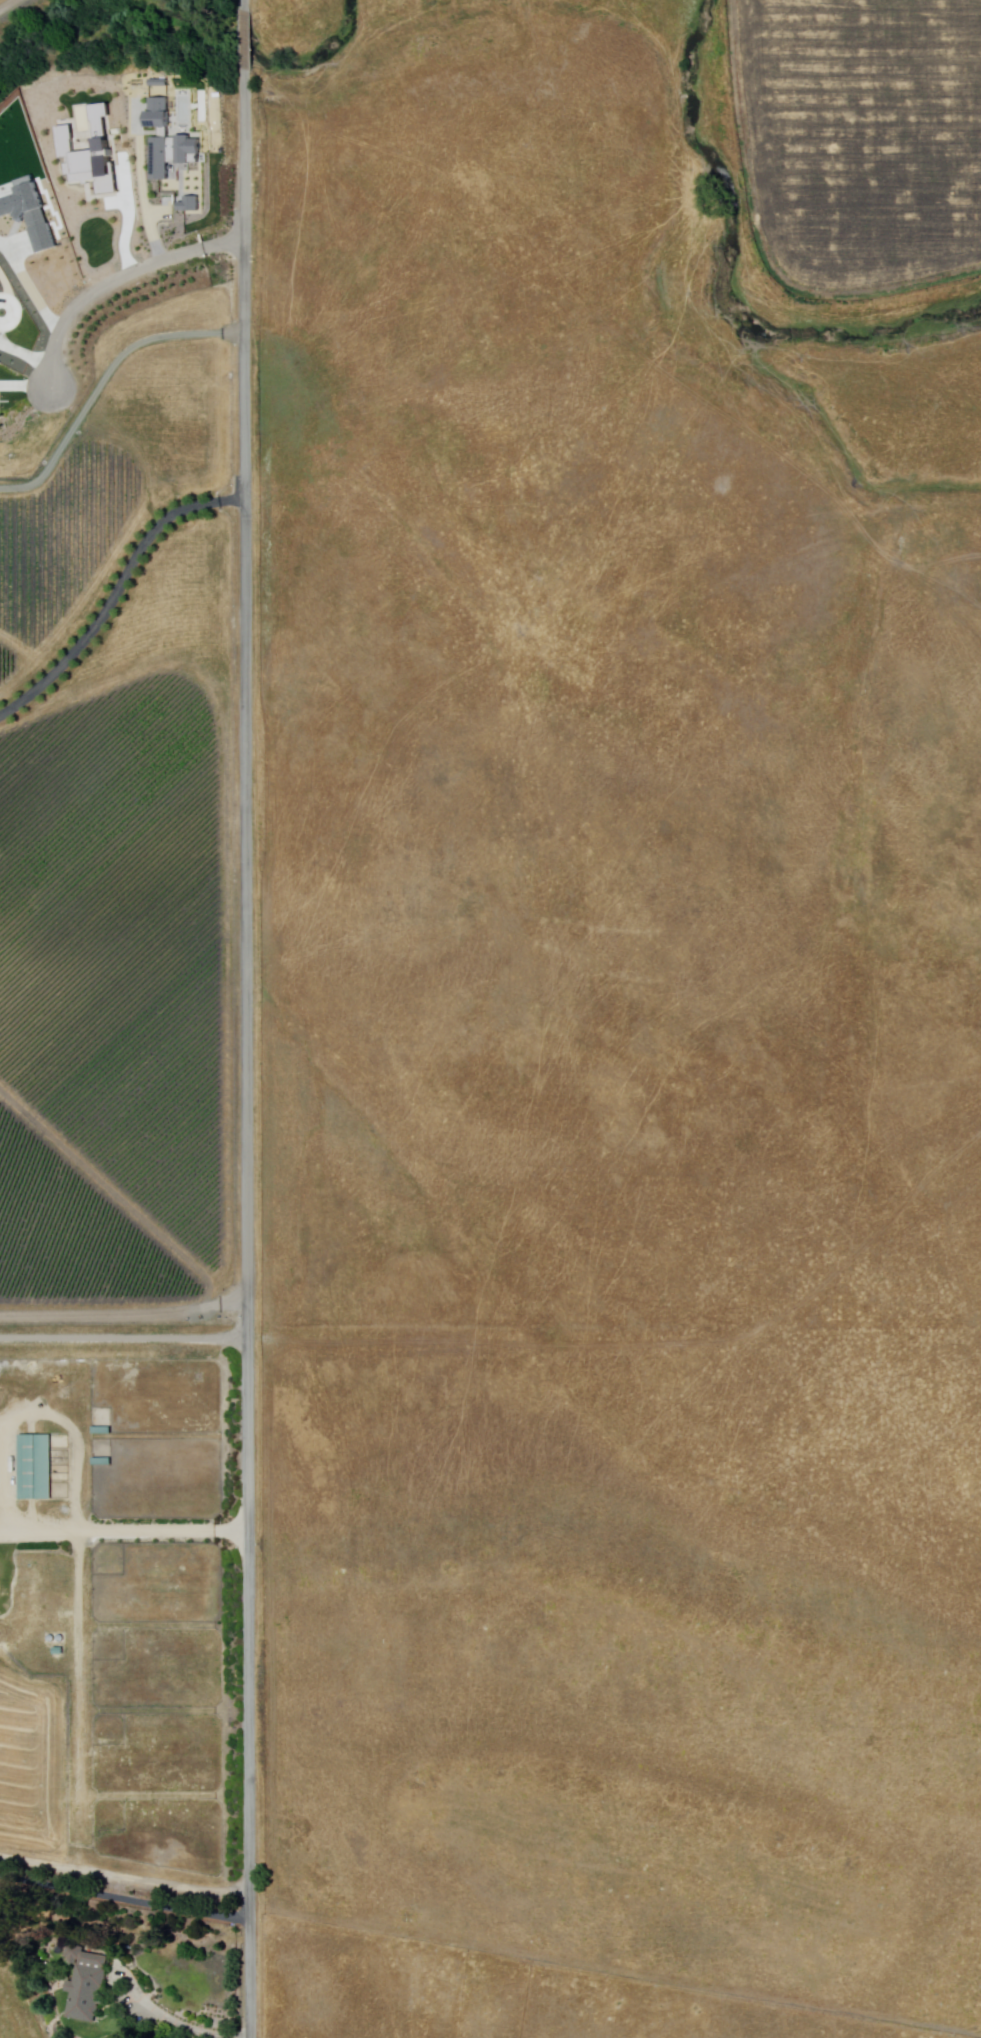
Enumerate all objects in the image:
crop: (11, 6)
road: (244, 17)
road: (244, 53)
building: (159, 113)
crop: (862, 138)
building: (174, 154)
building: (190, 204)
road: (115, 281)
crop: (141, 304)
crop: (111, 479)
road: (118, 594)
road: (246, 1055)
road: (124, 1317)
road: (124, 1337)
building: (104, 1431)
building: (105, 1462)
building: (37, 1468)
road: (123, 1530)
road: (123, 1878)
road: (123, 1896)
building: (89, 1984)
road: (167, 2019)

